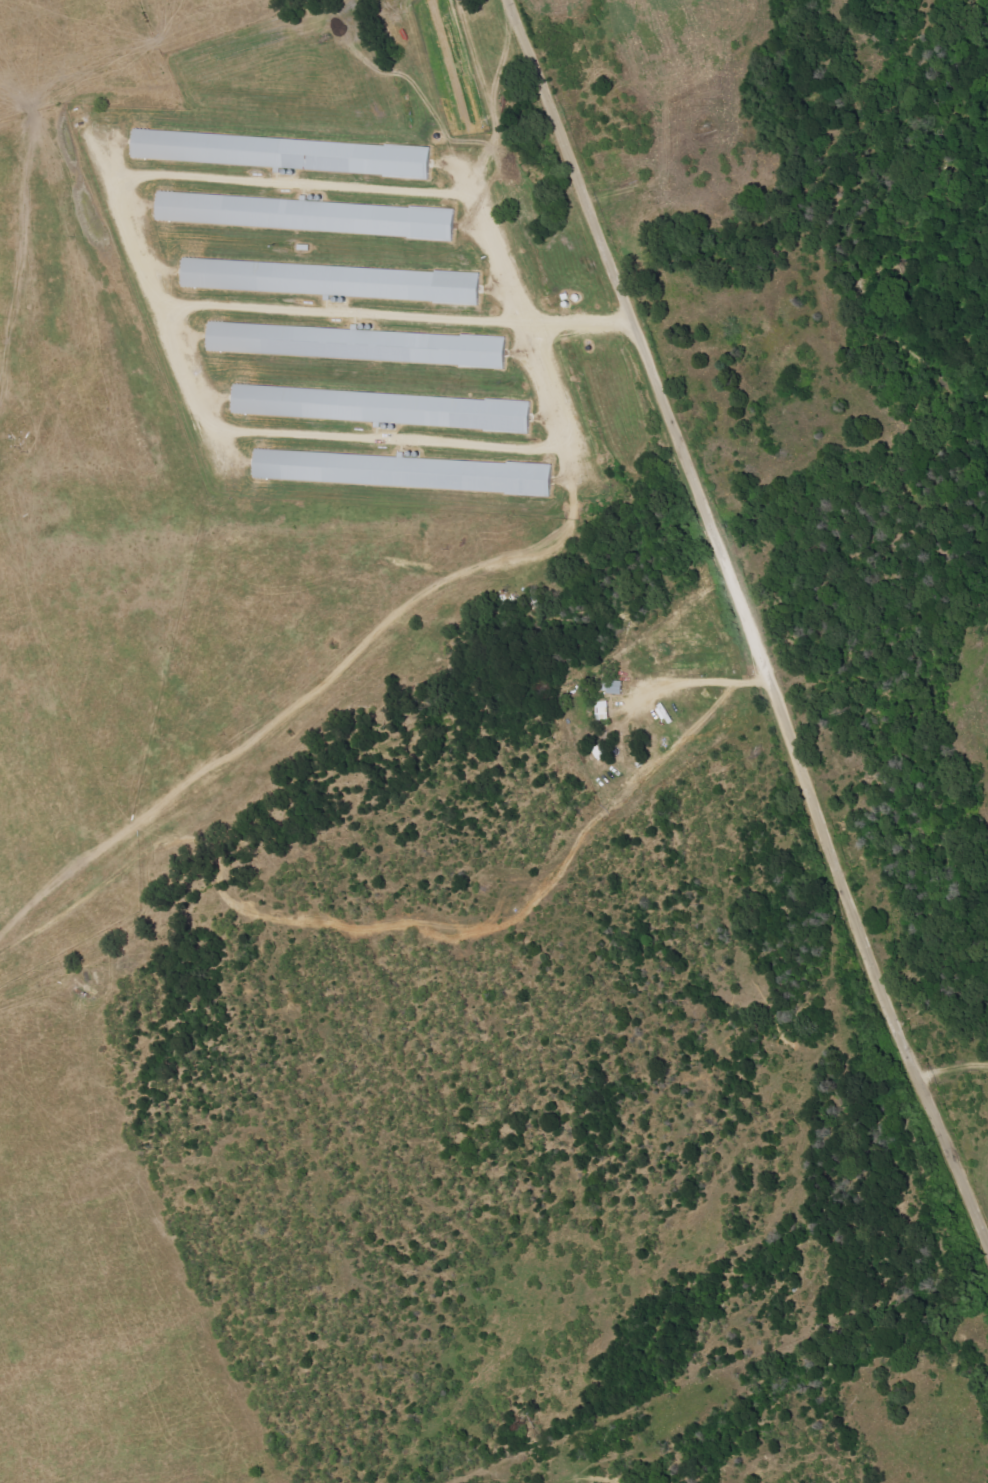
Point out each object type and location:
building: (285, 152)
building: (306, 214)
building: (336, 280)
building: (357, 343)
building: (385, 407)
building: (402, 471)
road: (747, 617)
road: (703, 680)
road: (343, 682)
building: (615, 686)
building: (603, 710)

